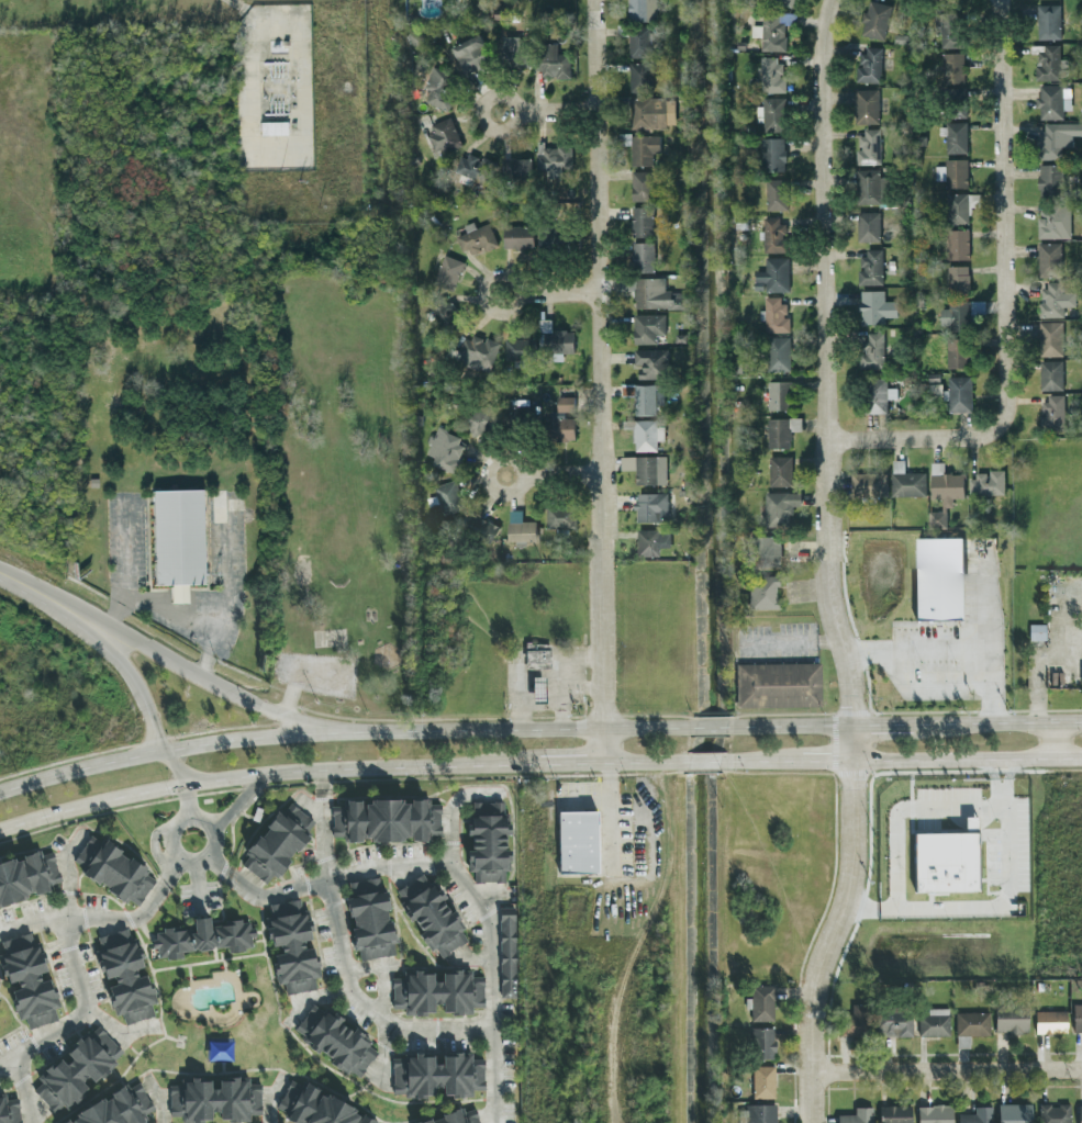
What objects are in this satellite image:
building: (785, 1)
building: (640, 9)
building: (874, 19)
building: (1047, 21)
building: (948, 29)
building: (772, 30)
building: (638, 41)
building: (471, 54)
building: (551, 61)
building: (1050, 61)
building: (869, 65)
building: (951, 65)
road: (254, 69)
building: (770, 75)
building: (639, 77)
building: (437, 87)
wastewater plant: (269, 92)
building: (1052, 101)
building: (958, 102)
building: (867, 105)
road: (553, 110)
building: (651, 112)
building: (773, 113)
road: (484, 123)
building: (271, 127)
building: (443, 135)
building: (953, 136)
building: (1049, 141)
building: (868, 147)
building: (643, 148)
building: (772, 154)
building: (553, 156)
building: (476, 167)
building: (516, 167)
building: (956, 172)
building: (1048, 179)
building: (642, 186)
building: (867, 187)
building: (774, 193)
building: (960, 206)
building: (642, 221)
building: (1053, 221)
road: (1005, 222)
building: (867, 226)
building: (773, 235)
building: (517, 236)
building: (551, 236)
building: (476, 238)
building: (957, 244)
building: (642, 256)
building: (1048, 259)
building: (870, 267)
building: (448, 271)
building: (772, 274)
building: (957, 278)
road: (512, 285)
road: (555, 293)
building: (655, 293)
building: (1055, 299)
building: (874, 306)
building: (444, 313)
building: (773, 314)
building: (953, 315)
building: (646, 327)
building: (554, 338)
building: (1050, 338)
building: (517, 348)
building: (870, 349)
building: (476, 351)
building: (956, 351)
building: (778, 352)
building: (650, 362)
road: (595, 364)
building: (1050, 374)
building: (935, 388)
building: (777, 393)
building: (958, 393)
building: (877, 394)
building: (645, 396)
building: (565, 402)
building: (517, 408)
building: (1051, 412)
building: (480, 419)
building: (559, 427)
building: (780, 430)
building: (644, 433)
road: (904, 436)
building: (444, 449)
building: (645, 468)
building: (779, 470)
road: (553, 473)
building: (905, 481)
building: (986, 482)
building: (868, 483)
building: (942, 490)
building: (447, 495)
building: (650, 506)
building: (779, 506)
building: (558, 515)
building: (481, 527)
building: (176, 539)
building: (651, 541)
building: (761, 551)
road: (125, 564)
road: (828, 565)
building: (938, 579)
road: (224, 586)
building: (763, 594)
road: (176, 596)
road: (49, 599)
road: (181, 617)
road: (1061, 622)
building: (1038, 635)
road: (793, 642)
road: (940, 649)
building: (538, 655)
road: (1037, 680)
building: (779, 686)
road: (975, 693)
road: (236, 697)
road: (145, 706)
road: (994, 708)
road: (905, 727)
road: (647, 729)
road: (711, 729)
road: (493, 731)
road: (1055, 741)
road: (601, 746)
road: (190, 748)
road: (969, 760)
road: (827, 761)
road: (762, 762)
road: (705, 763)
road: (570, 764)
road: (606, 764)
road: (648, 764)
road: (364, 767)
road: (190, 802)
road: (238, 804)
road: (93, 806)
road: (902, 810)
road: (450, 812)
road: (612, 819)
building: (387, 821)
building: (971, 823)
road: (323, 824)
road: (169, 843)
building: (579, 843)
building: (278, 844)
building: (489, 844)
building: (947, 864)
road: (453, 869)
building: (114, 872)
building: (27, 878)
road: (490, 898)
road: (997, 907)
building: (432, 917)
road: (103, 918)
building: (371, 921)
building: (203, 939)
building: (293, 947)
building: (509, 954)
road: (76, 973)
road: (384, 975)
building: (125, 977)
building: (30, 981)
building: (438, 993)
road: (316, 1002)
building: (763, 1004)
road: (365, 1007)
building: (1078, 1020)
building: (858, 1022)
building: (1012, 1022)
building: (1051, 1023)
building: (895, 1024)
building: (935, 1024)
building: (972, 1024)
road: (116, 1034)
building: (336, 1042)
building: (763, 1044)
road: (386, 1057)
building: (78, 1071)
road: (948, 1071)
building: (437, 1076)
building: (763, 1083)
road: (23, 1093)
road: (158, 1100)
building: (216, 1100)
road: (272, 1100)
building: (316, 1108)
building: (120, 1109)
building: (10, 1111)
building: (1015, 1113)
building: (896, 1114)
building: (935, 1114)
building: (1058, 1114)
building: (1080, 1114)
building: (857, 1116)
building: (978, 1116)
building: (457, 1118)

